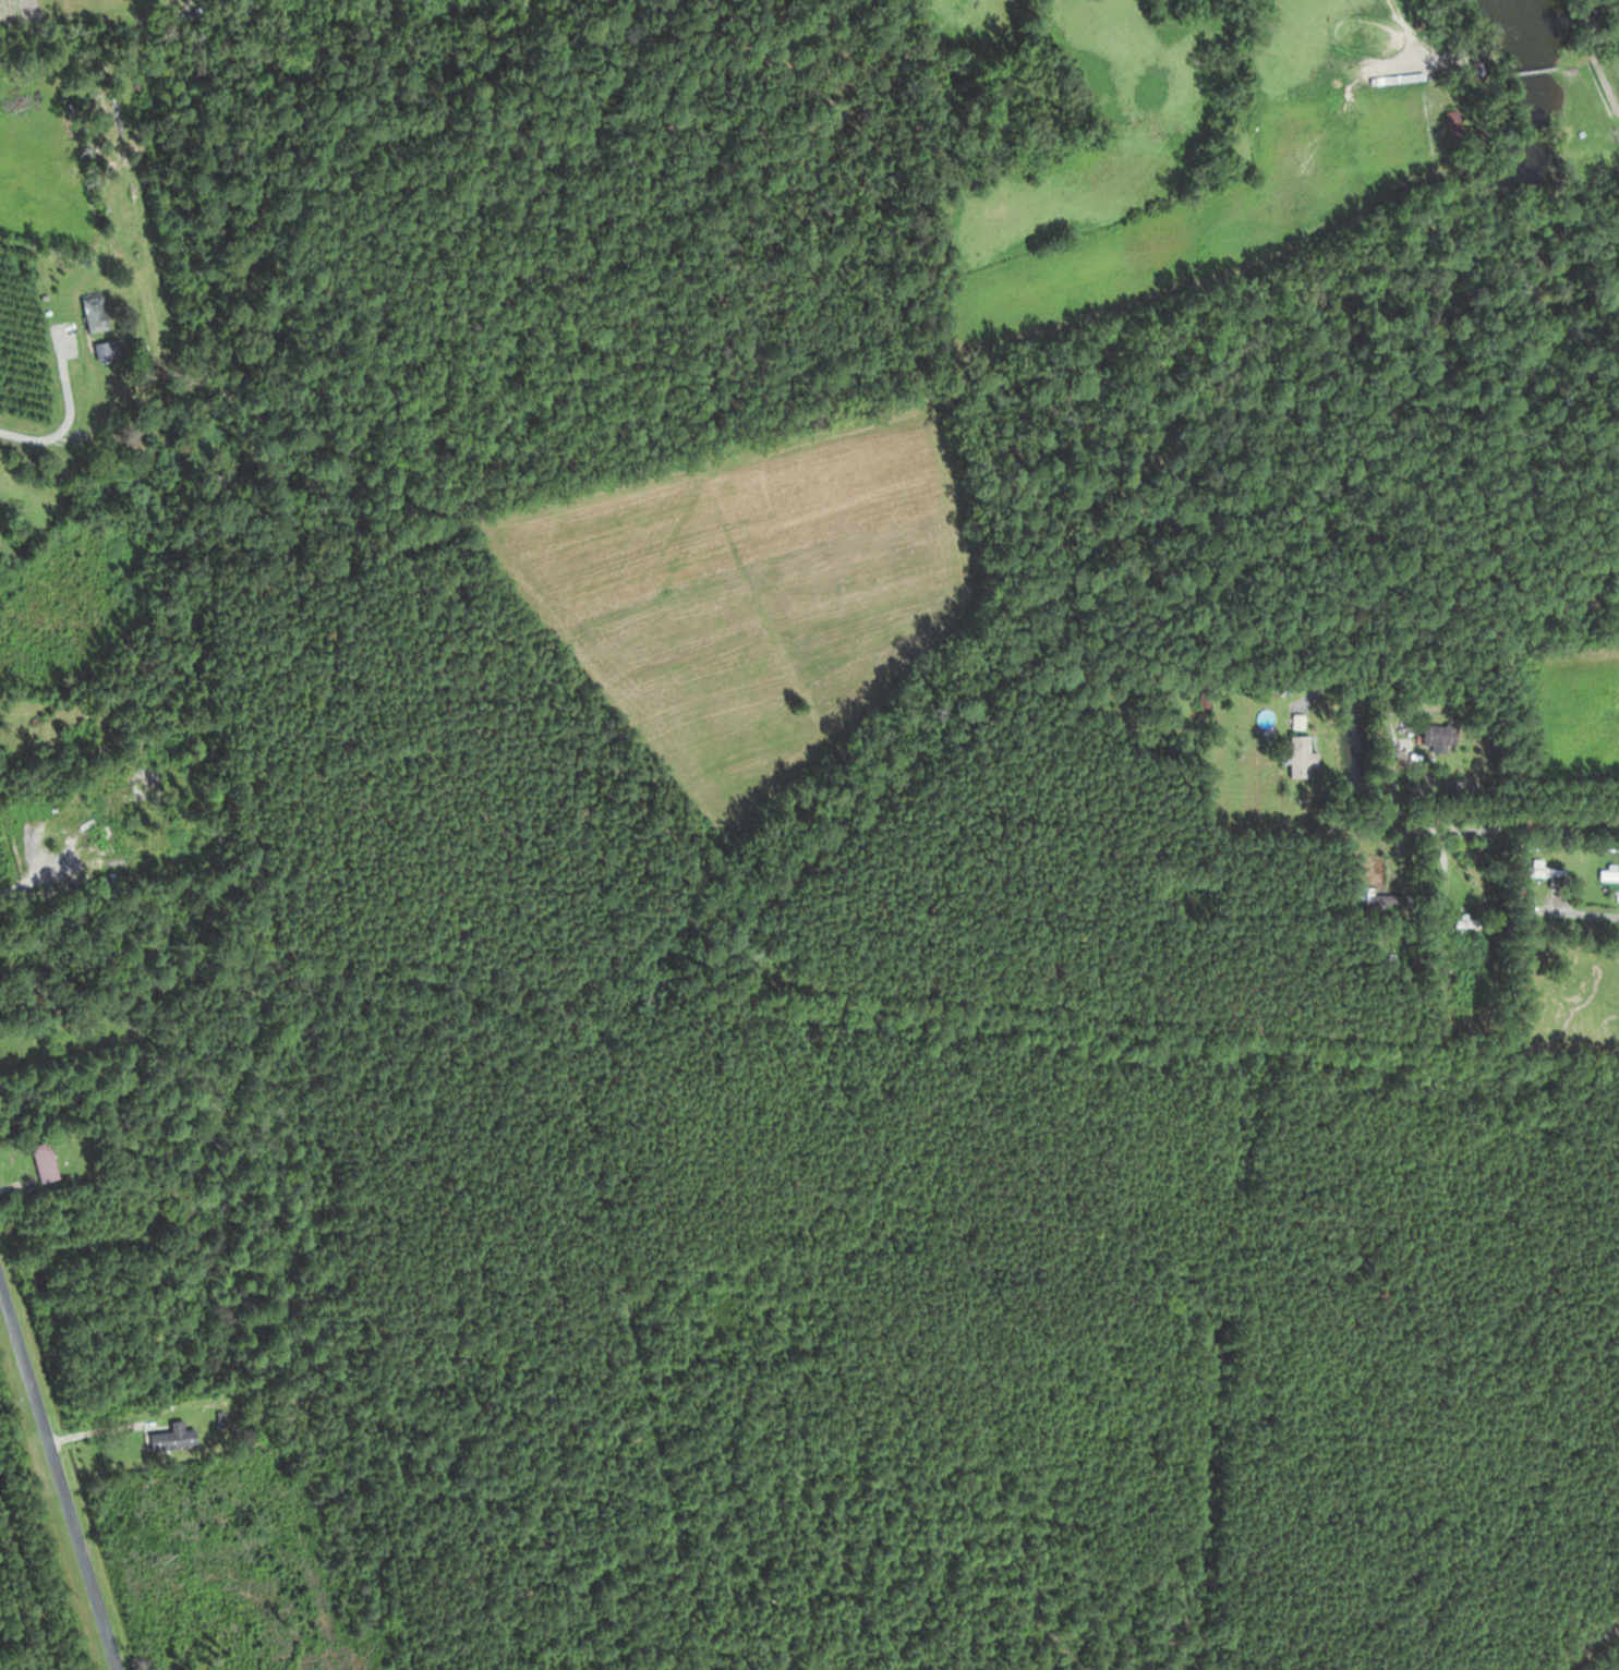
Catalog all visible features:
building: (1403, 77)
building: (100, 314)
building: (111, 351)
road: (72, 417)
building: (1431, 734)
building: (1294, 755)
road: (1469, 832)
building: (1542, 871)
building: (1606, 875)
building: (1366, 898)
road: (1578, 917)
building: (50, 1162)
building: (173, 1438)
road: (59, 1474)
road: (1590, 1651)

